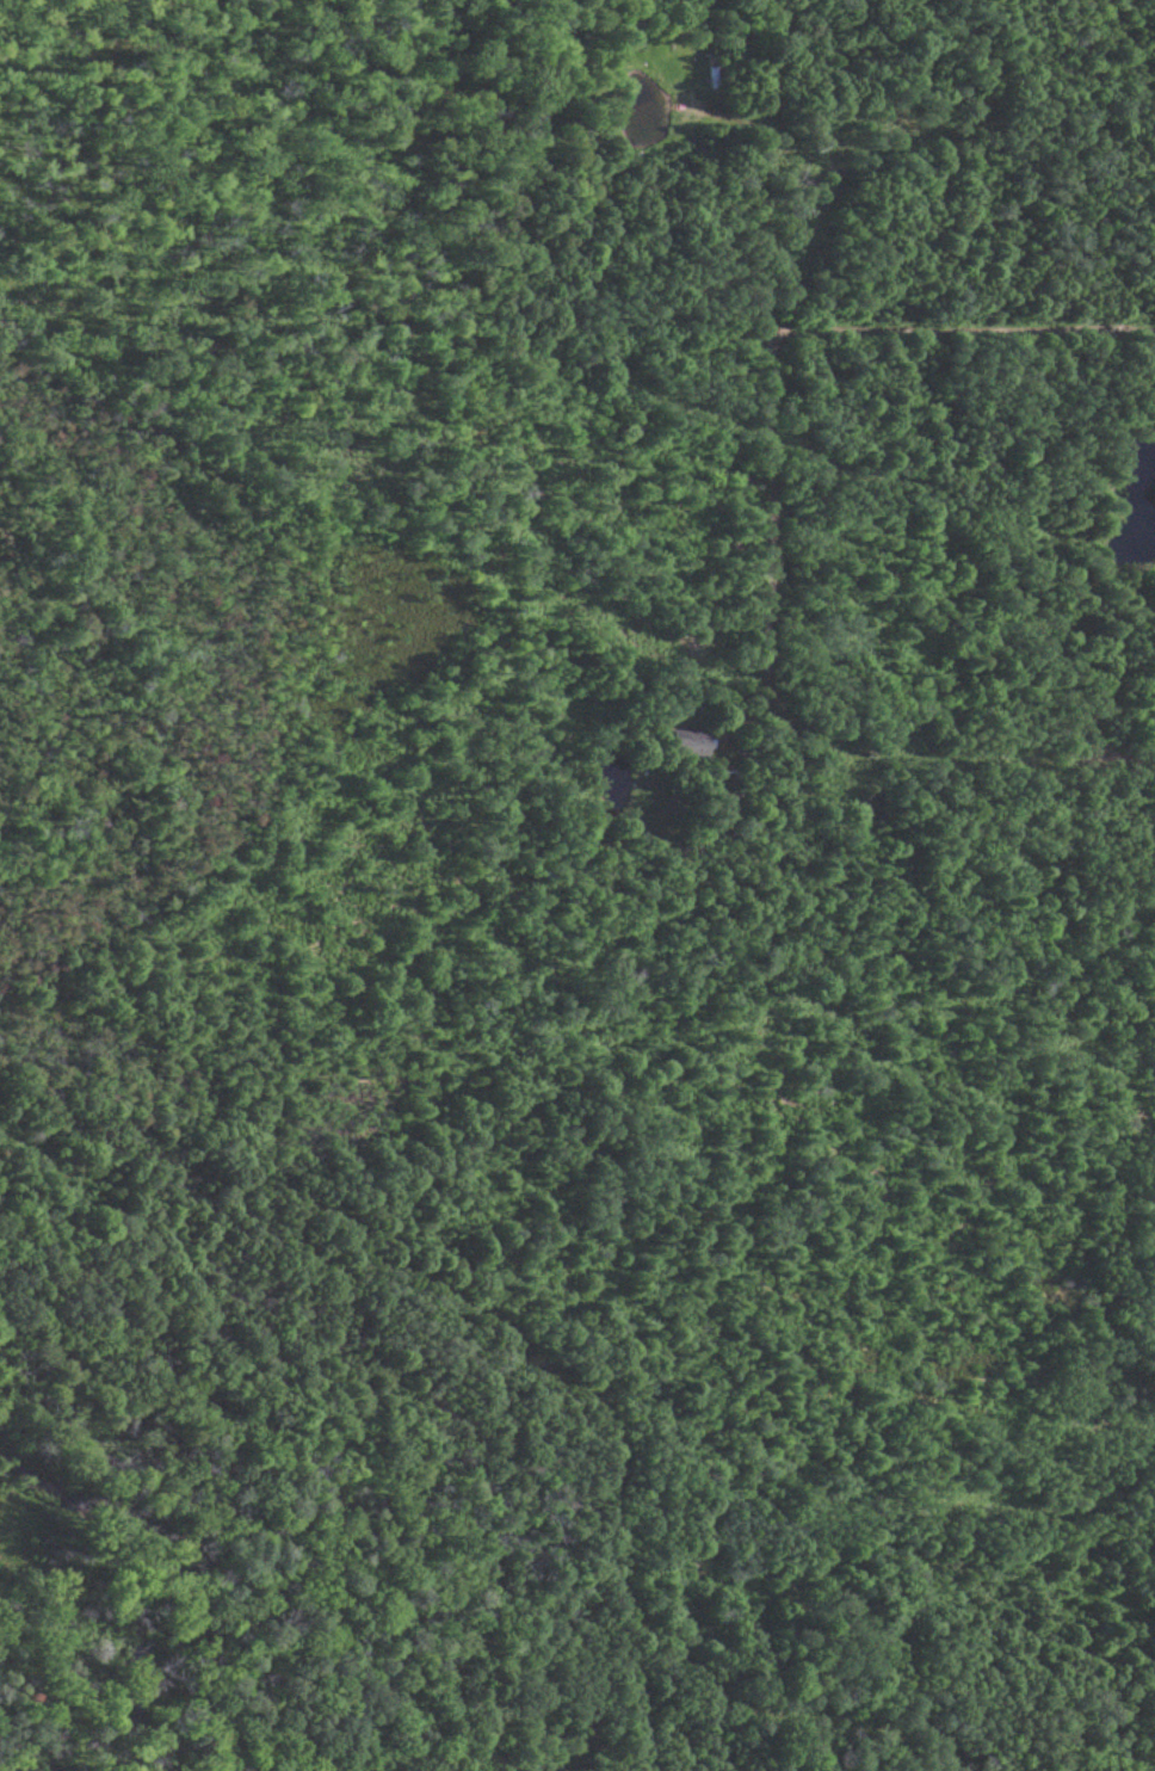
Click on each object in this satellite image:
building: (686, 742)

